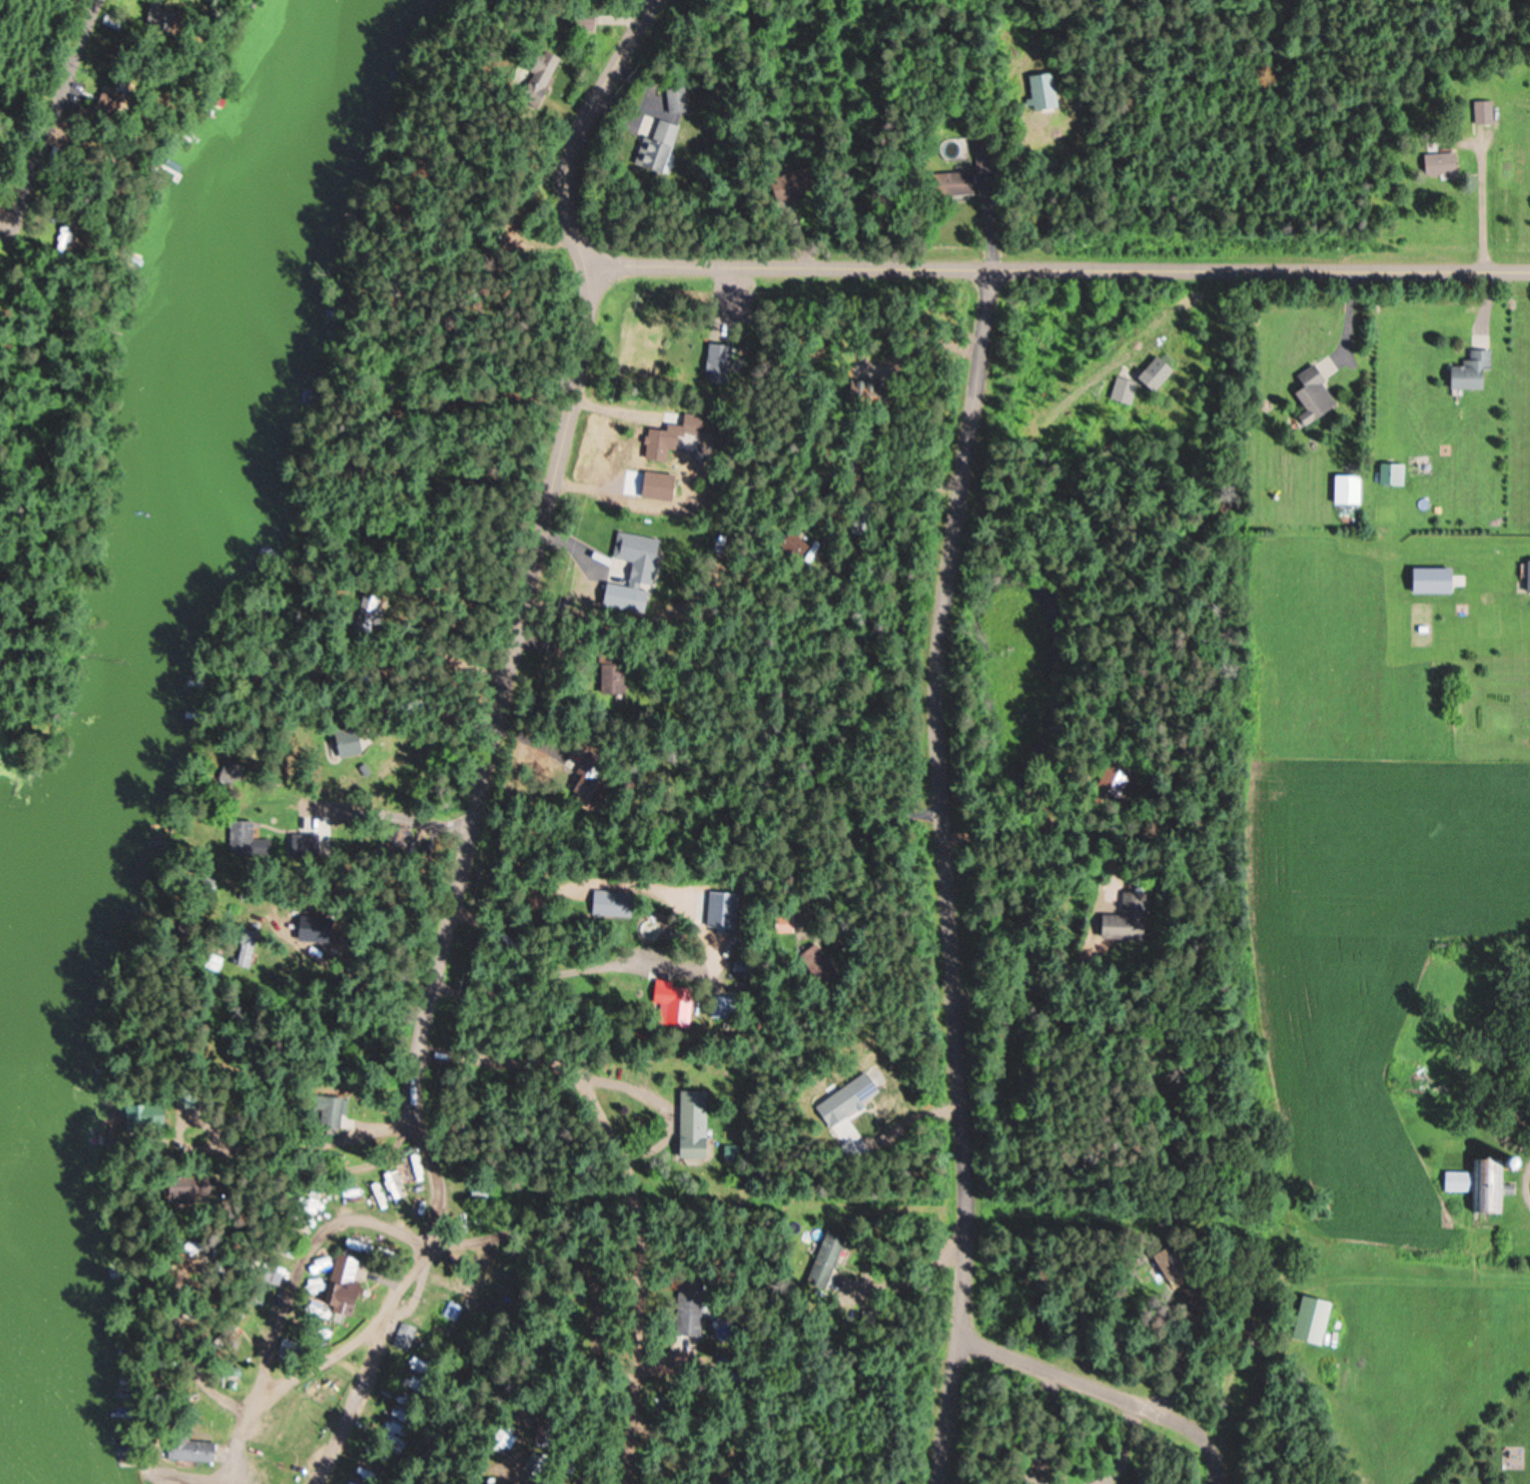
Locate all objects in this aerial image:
building: (532, 73)
building: (1039, 90)
building: (672, 99)
building: (1481, 111)
road: (52, 127)
building: (650, 147)
building: (1436, 163)
building: (948, 183)
road: (1056, 267)
building: (713, 362)
building: (1466, 369)
building: (1308, 393)
building: (662, 443)
building: (1387, 472)
building: (1344, 488)
building: (795, 544)
building: (1525, 575)
road: (501, 742)
road: (379, 819)
building: (245, 833)
road: (947, 875)
building: (1121, 916)
building: (788, 922)
building: (698, 1125)
building: (1480, 1180)
building: (834, 1255)
building: (1306, 1318)
road: (282, 1383)
road: (1109, 1393)
building: (197, 1449)

